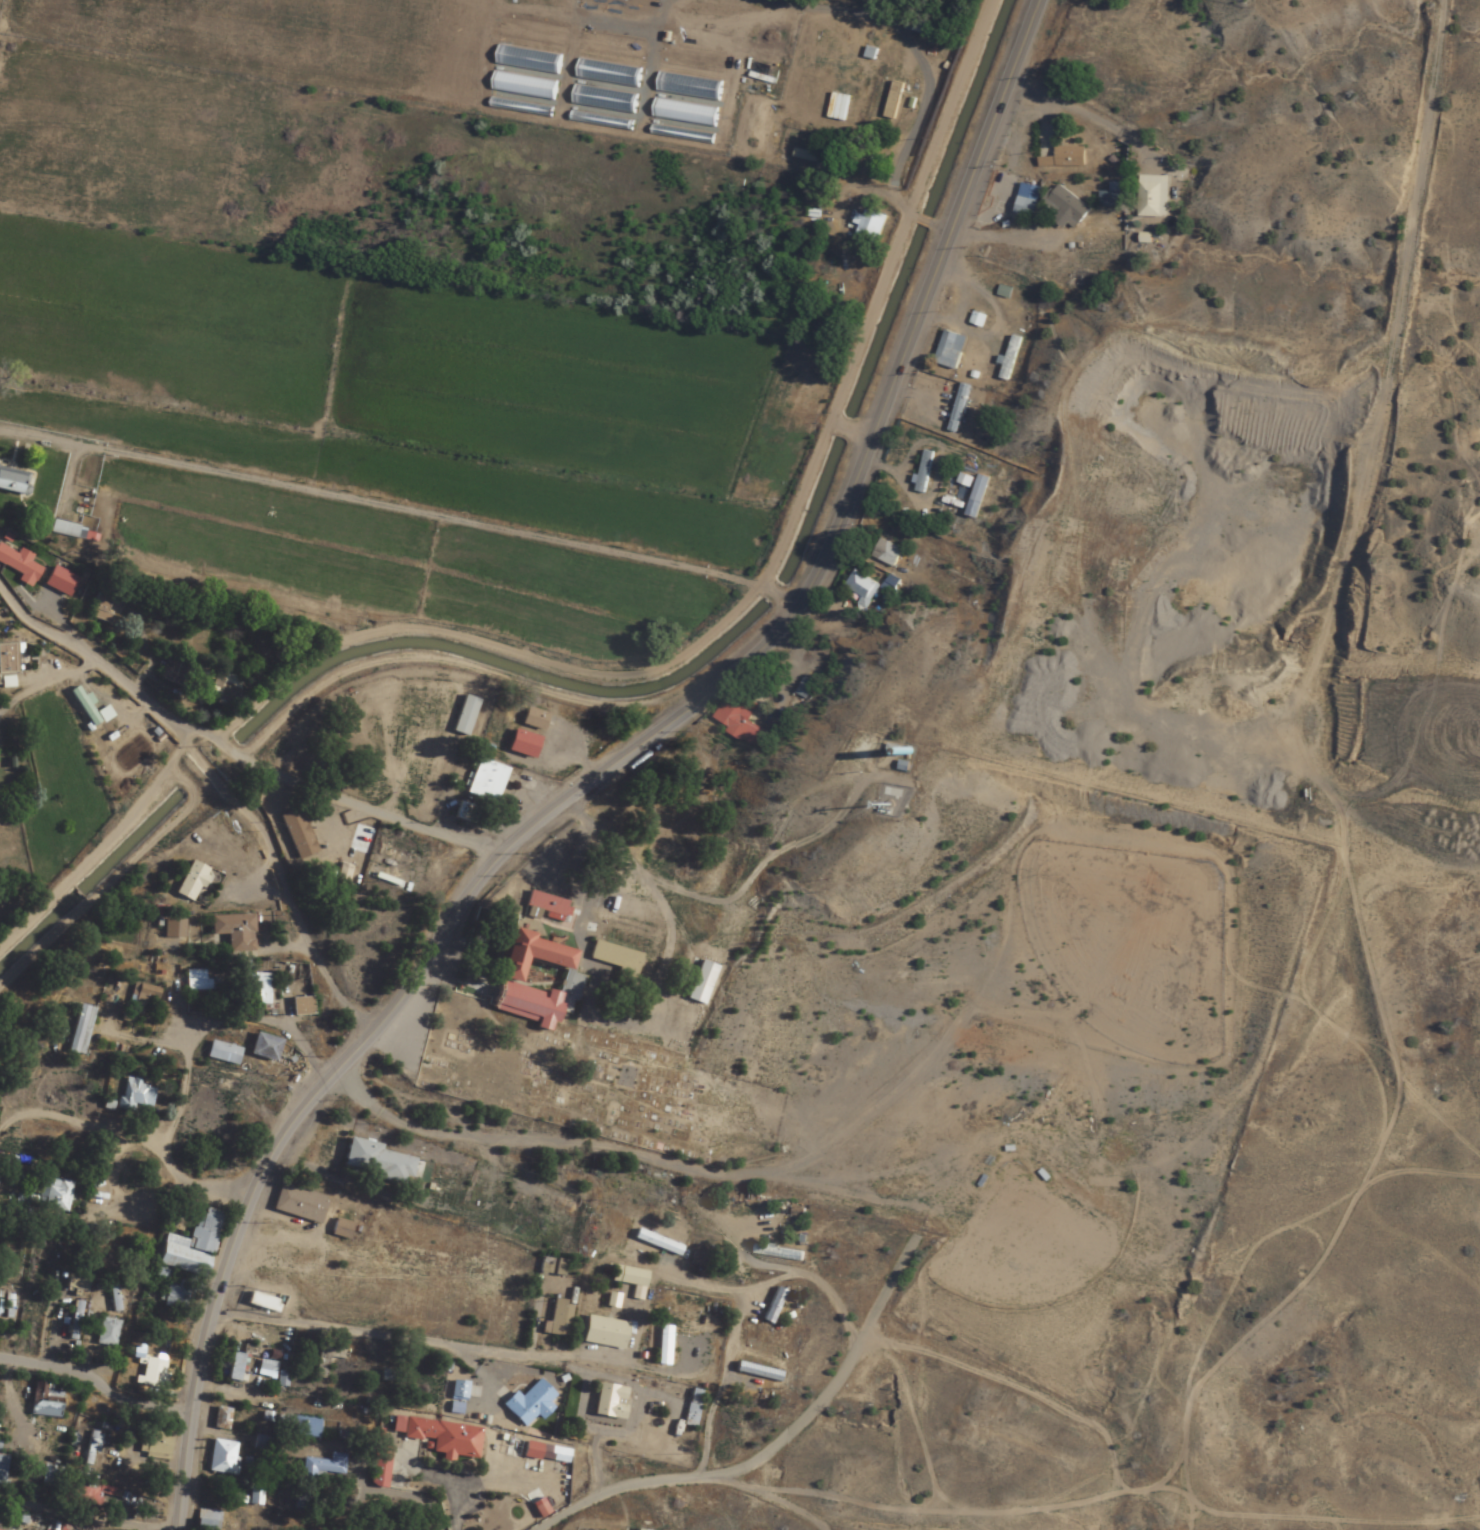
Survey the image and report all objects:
building: (933, 32)
road: (737, 150)
building: (814, 158)
building: (1064, 158)
building: (1110, 196)
building: (1153, 196)
building: (1026, 200)
building: (1068, 204)
road: (921, 220)
building: (867, 228)
road: (939, 228)
building: (977, 320)
building: (949, 350)
building: (1009, 358)
building: (958, 408)
road: (843, 424)
road: (863, 433)
building: (922, 469)
building: (13, 481)
road: (376, 501)
building: (888, 554)
building: (19, 566)
building: (57, 582)
building: (860, 586)
road: (767, 593)
road: (793, 601)
building: (99, 609)
building: (6, 659)
building: (173, 670)
building: (223, 688)
building: (86, 709)
building: (464, 716)
building: (532, 719)
building: (739, 719)
building: (306, 731)
building: (522, 744)
road: (232, 753)
road: (609, 771)
building: (486, 781)
building: (889, 793)
building: (464, 812)
building: (295, 834)
road: (273, 876)
building: (190, 883)
road: (745, 889)
building: (546, 904)
building: (172, 929)
building: (232, 932)
building: (615, 957)
building: (207, 980)
building: (536, 981)
building: (254, 990)
building: (142, 995)
building: (300, 1007)
building: (79, 1031)
road: (209, 1046)
building: (263, 1049)
building: (222, 1054)
park: (598, 1083)
building: (134, 1094)
building: (374, 1161)
building: (53, 1194)
building: (18, 1204)
building: (299, 1204)
building: (340, 1229)
building: (657, 1243)
building: (190, 1246)
building: (778, 1253)
building: (551, 1266)
building: (628, 1276)
building: (174, 1294)
building: (612, 1300)
building: (262, 1302)
building: (773, 1306)
building: (560, 1319)
building: (73, 1320)
road: (447, 1327)
building: (106, 1332)
building: (604, 1332)
building: (664, 1345)
building: (327, 1359)
building: (266, 1366)
building: (234, 1367)
building: (152, 1372)
building: (758, 1372)
building: (281, 1381)
building: (458, 1390)
building: (43, 1401)
building: (609, 1401)
building: (529, 1404)
road: (93, 1408)
building: (693, 1408)
building: (221, 1419)
building: (296, 1426)
building: (440, 1437)
building: (261, 1443)
building: (157, 1445)
building: (545, 1453)
building: (223, 1458)
building: (1, 1466)
building: (381, 1466)
building: (319, 1469)
road: (762, 1474)
building: (50, 1476)
building: (255, 1494)
building: (80, 1496)
building: (301, 1501)
road: (89, 1511)
building: (204, 1520)
building: (636, 1529)

